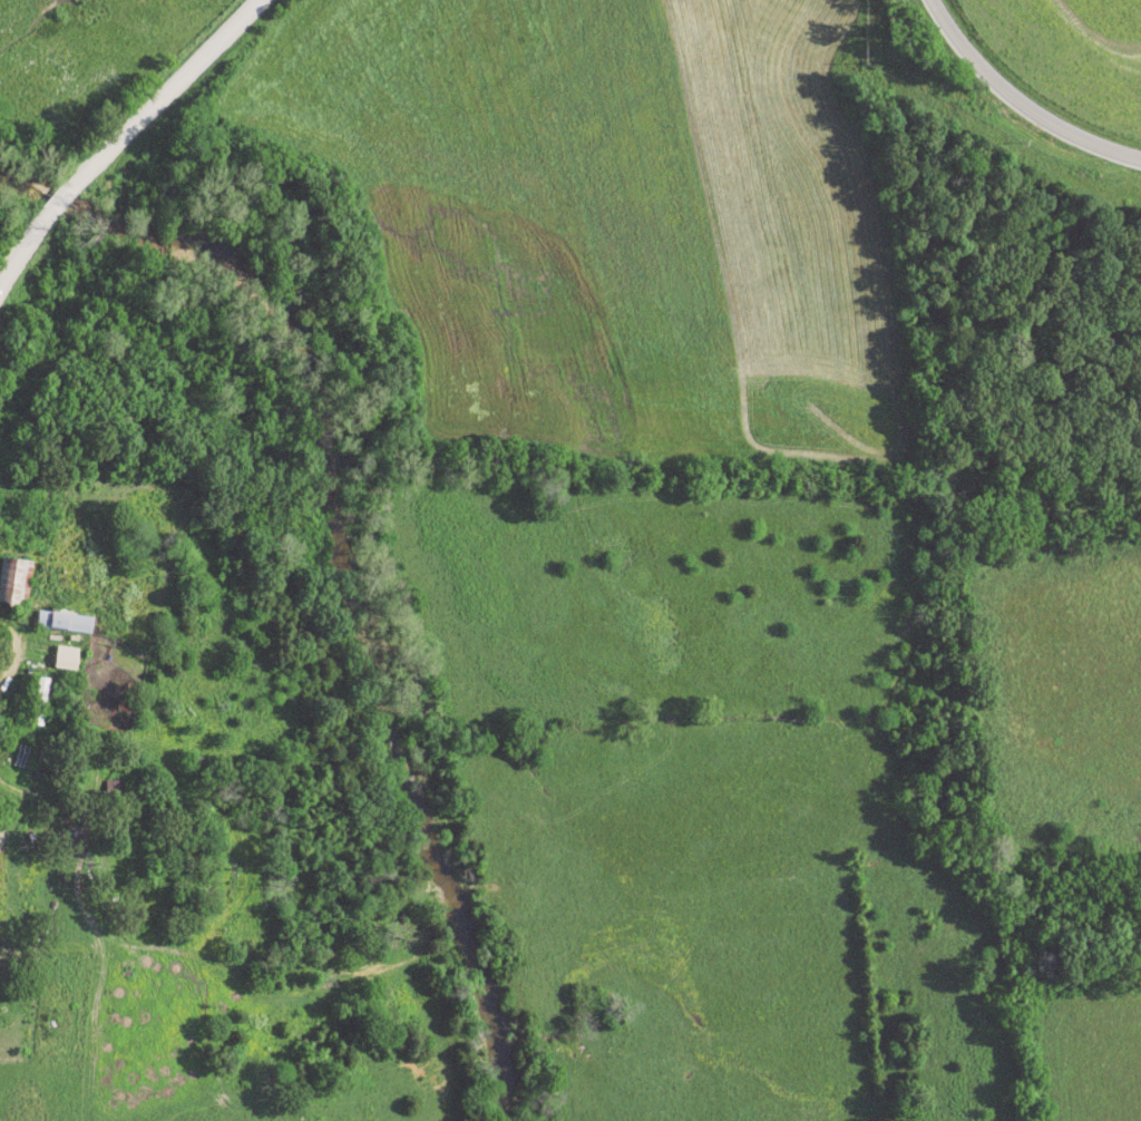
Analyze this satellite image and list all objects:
road: (1016, 103)
road: (123, 131)
building: (20, 583)
building: (65, 623)
road: (11, 650)
building: (66, 659)
road: (35, 956)

